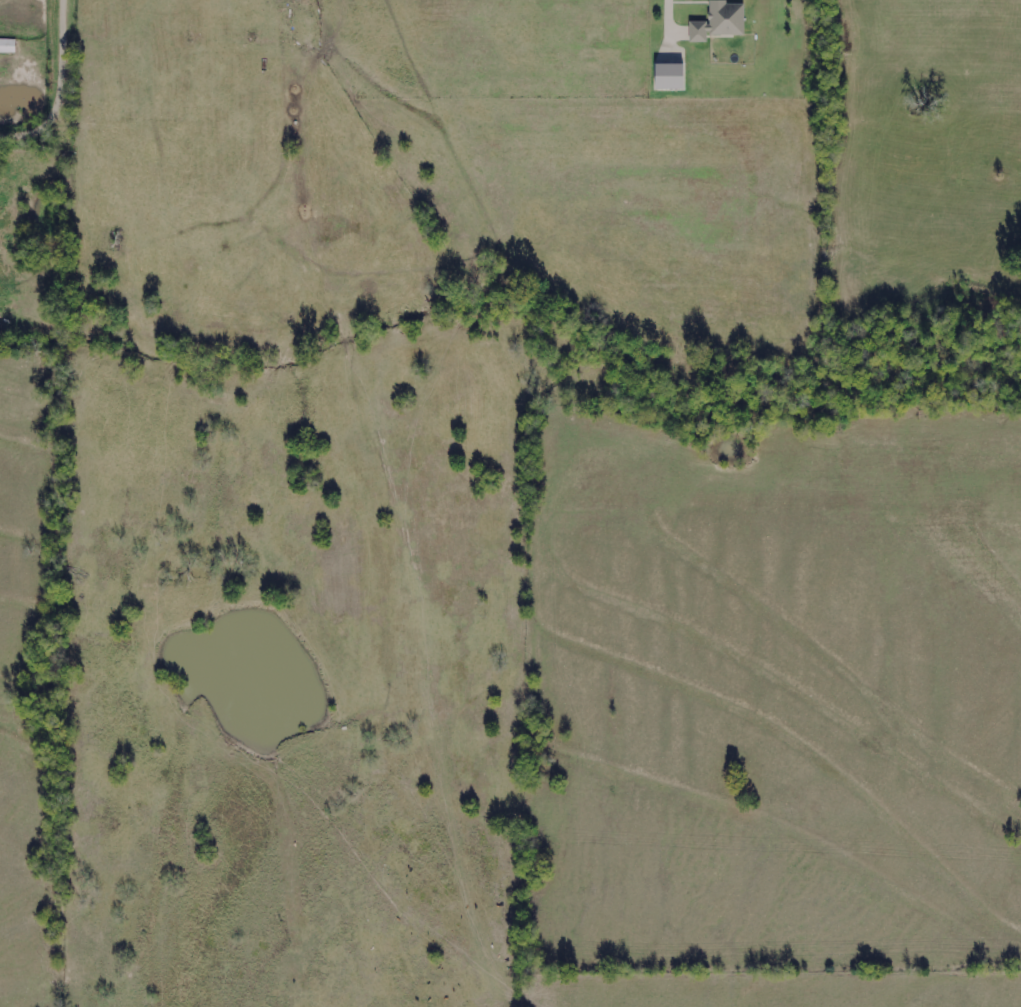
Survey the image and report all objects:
building: (720, 21)
building: (7, 46)
building: (669, 77)
road: (67, 94)

